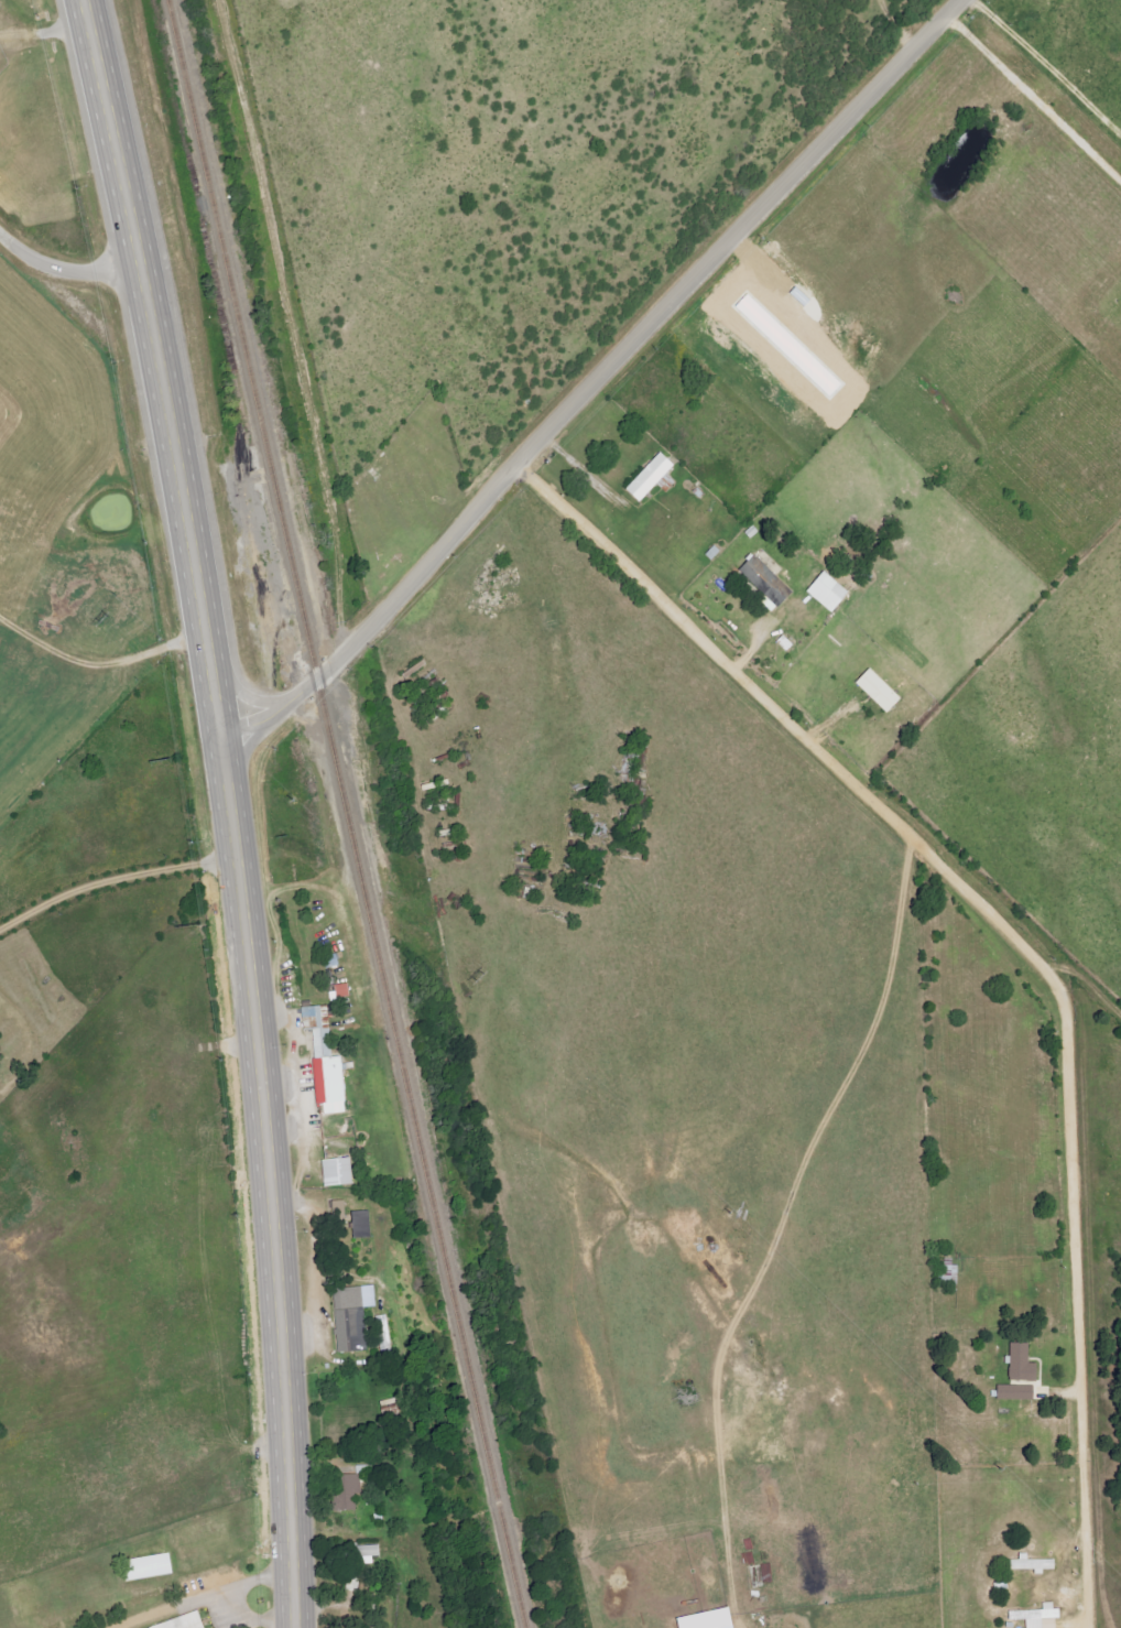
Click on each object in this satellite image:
road: (897, 23)
road: (1044, 65)
road: (1034, 97)
road: (66, 292)
road: (289, 315)
building: (793, 346)
road: (153, 379)
road: (597, 387)
building: (654, 477)
park: (399, 492)
building: (766, 579)
building: (832, 593)
power tower: (95, 614)
building: (883, 691)
road: (792, 732)
railway: (339, 814)
road: (113, 881)
power tower: (479, 976)
road: (1089, 1028)
road: (30, 1043)
building: (326, 1055)
road: (293, 1057)
building: (341, 1172)
road: (263, 1193)
power tower: (718, 1207)
building: (364, 1224)
road: (780, 1225)
road: (1068, 1314)
building: (355, 1317)
building: (385, 1332)
building: (1019, 1364)
building: (1012, 1392)
power tower: (979, 1454)
building: (356, 1487)
building: (374, 1553)
building: (1029, 1565)
building: (152, 1567)
road: (1099, 1611)
building: (1035, 1617)
building: (715, 1619)
building: (185, 1621)

